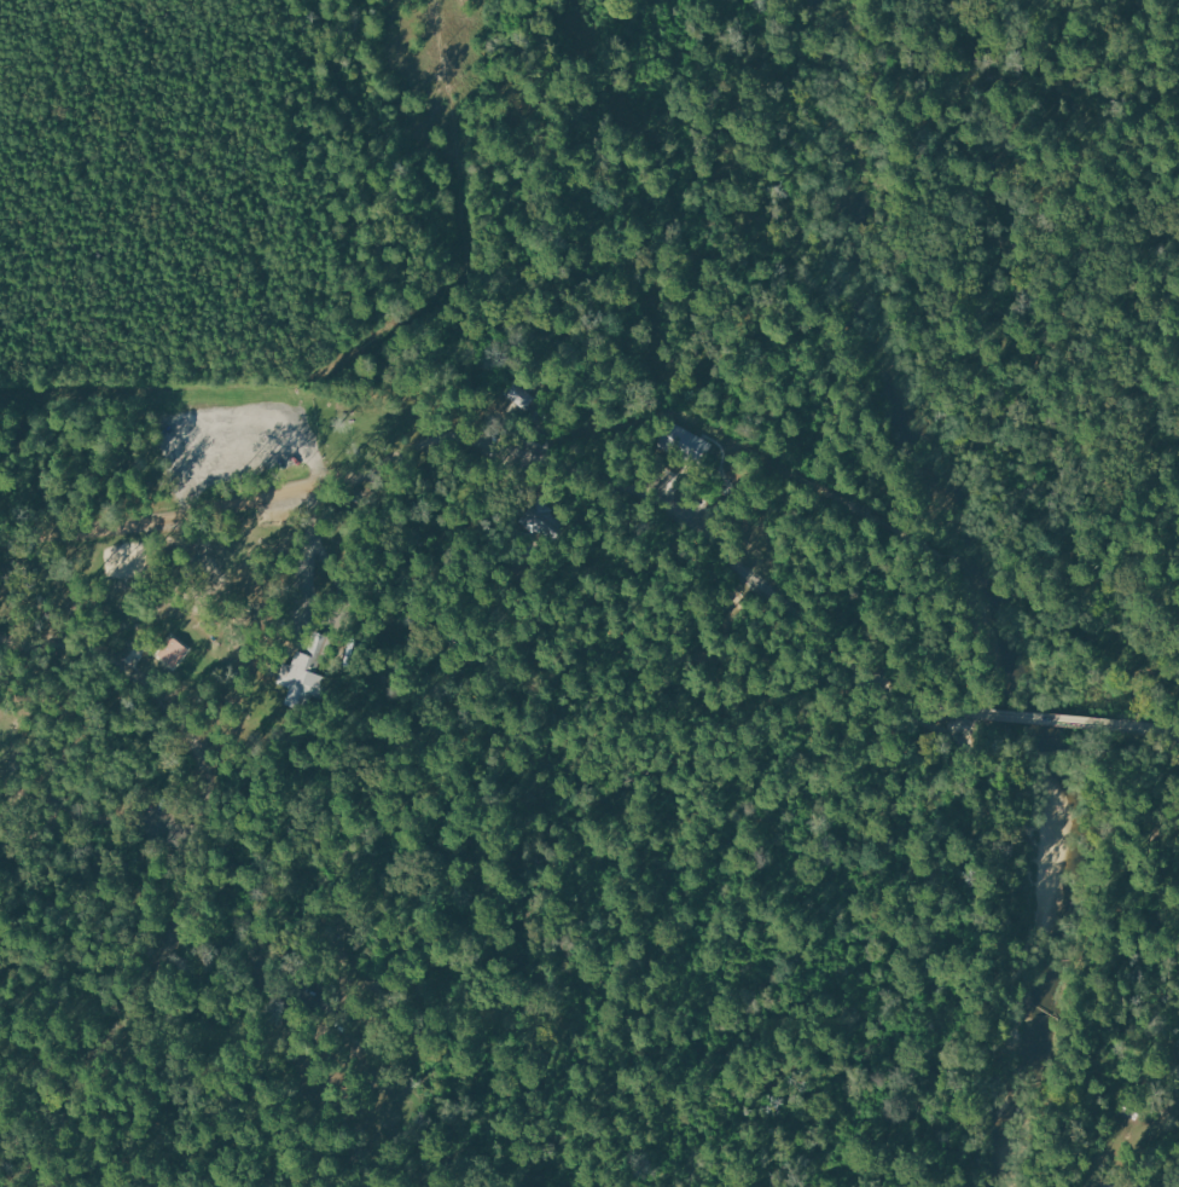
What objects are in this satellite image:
road: (933, 230)
road: (1142, 376)
road: (507, 452)
road: (1144, 468)
river: (1005, 589)
building: (174, 652)
building: (300, 679)
road: (1041, 718)
road: (1156, 728)
road: (1136, 751)
road: (1053, 752)
road: (980, 753)
road: (178, 869)
road: (1140, 901)
road: (747, 1009)

